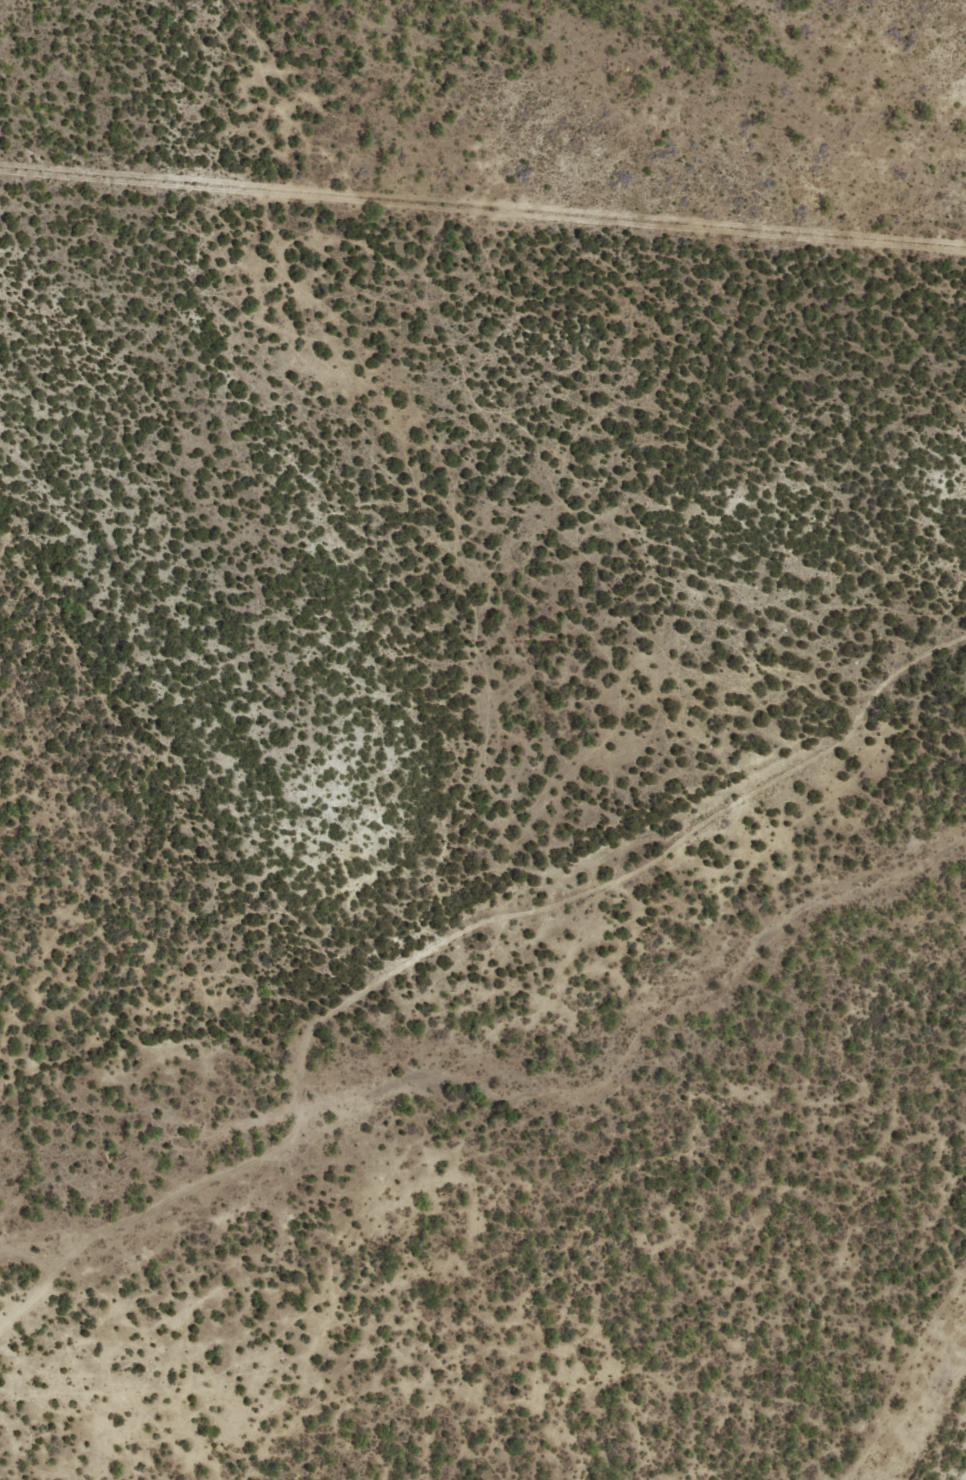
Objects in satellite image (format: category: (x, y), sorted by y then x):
road: (483, 211)
road: (440, 942)

